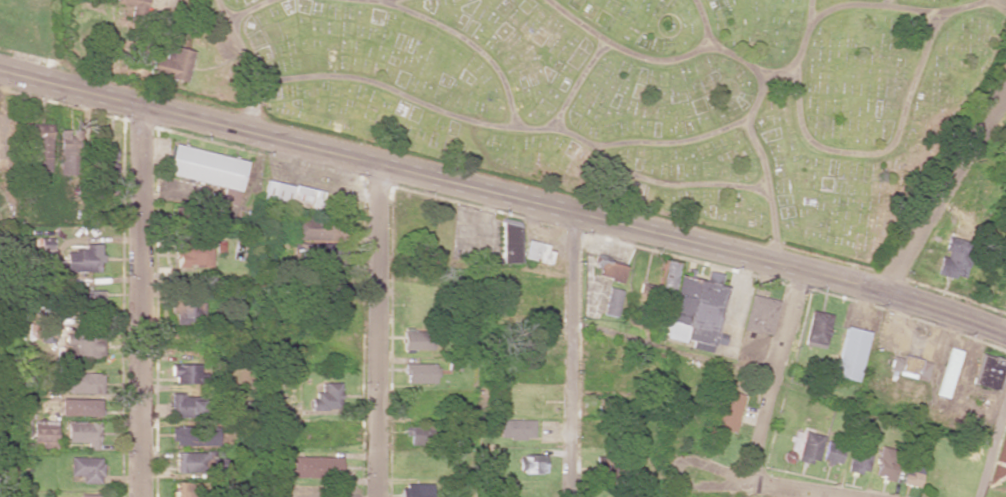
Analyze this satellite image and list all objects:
road: (386, 1)
building: (130, 3)
road: (885, 3)
road: (1003, 3)
road: (963, 7)
road: (249, 11)
road: (810, 13)
road: (462, 39)
road: (646, 58)
building: (173, 63)
road: (247, 66)
road: (749, 67)
road: (576, 85)
park: (602, 91)
road: (758, 97)
road: (424, 104)
road: (801, 129)
road: (670, 143)
building: (42, 145)
building: (68, 155)
building: (109, 161)
building: (209, 170)
road: (674, 185)
road: (767, 191)
road: (946, 193)
building: (292, 194)
road: (505, 196)
building: (304, 232)
building: (333, 232)
building: (509, 241)
building: (536, 251)
building: (193, 253)
building: (950, 256)
building: (84, 258)
building: (332, 264)
building: (1003, 284)
building: (91, 298)
building: (611, 301)
road: (139, 303)
building: (692, 304)
building: (189, 311)
building: (337, 313)
building: (760, 314)
building: (816, 329)
road: (377, 332)
building: (417, 339)
building: (84, 346)
building: (850, 353)
road: (573, 354)
building: (908, 366)
building: (988, 371)
building: (185, 372)
building: (420, 372)
building: (946, 372)
road: (776, 377)
building: (82, 382)
building: (327, 396)
building: (79, 406)
building: (185, 406)
building: (729, 411)
building: (516, 428)
building: (83, 432)
building: (44, 433)
building: (417, 433)
building: (194, 435)
building: (808, 447)
road: (993, 448)
building: (832, 452)
building: (787, 456)
building: (859, 457)
building: (191, 461)
building: (531, 463)
building: (886, 463)
building: (317, 466)
building: (87, 468)
building: (913, 471)
road: (780, 485)
building: (189, 489)
building: (416, 489)
building: (89, 495)

